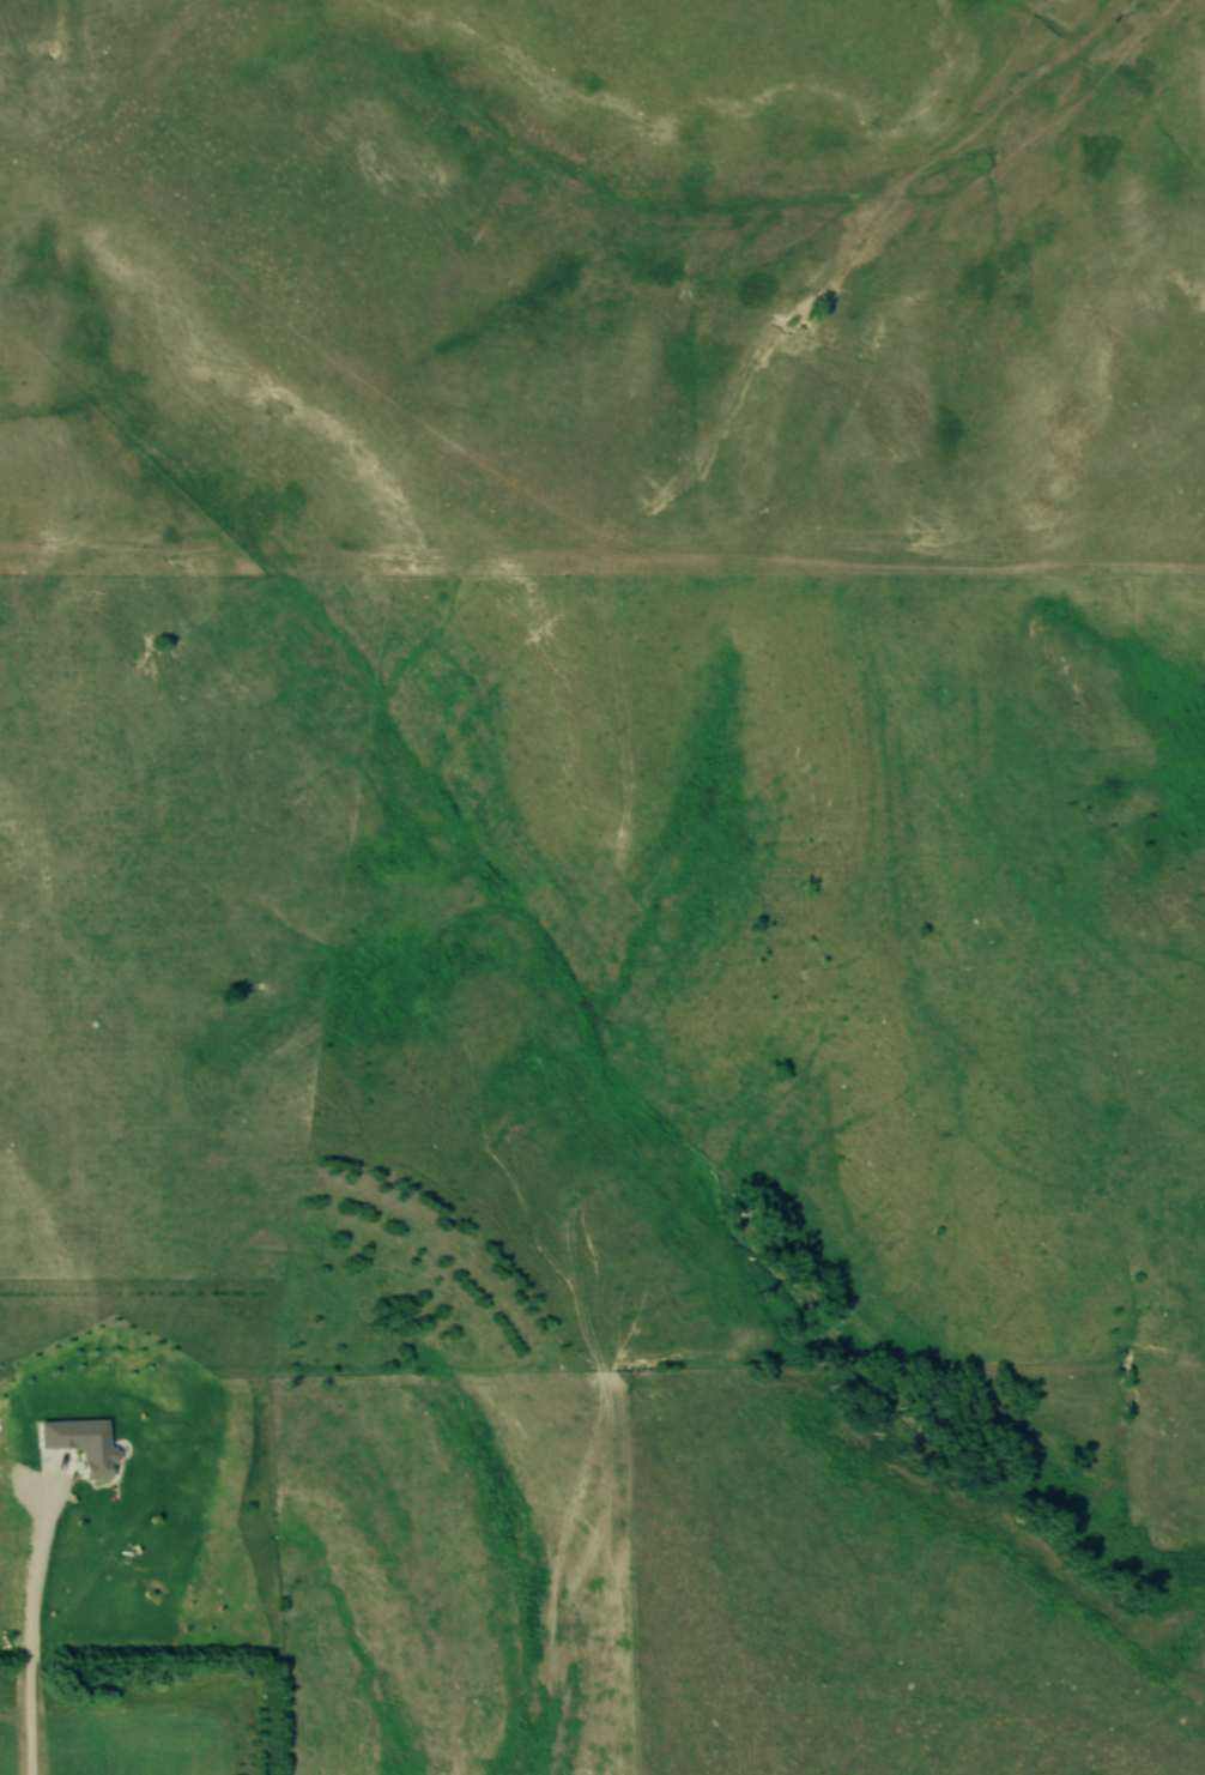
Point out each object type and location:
building: (78, 1443)
road: (26, 1620)

